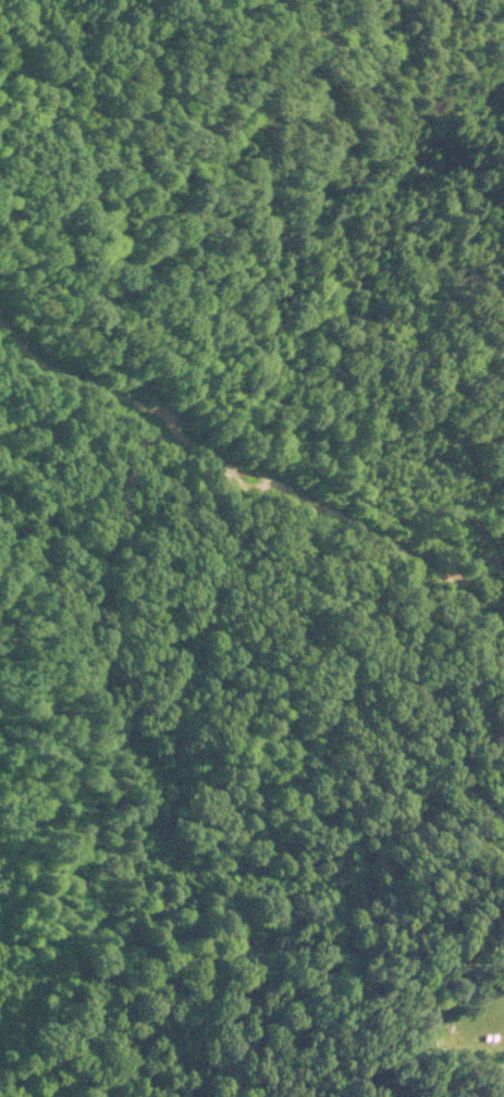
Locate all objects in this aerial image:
road: (234, 949)

